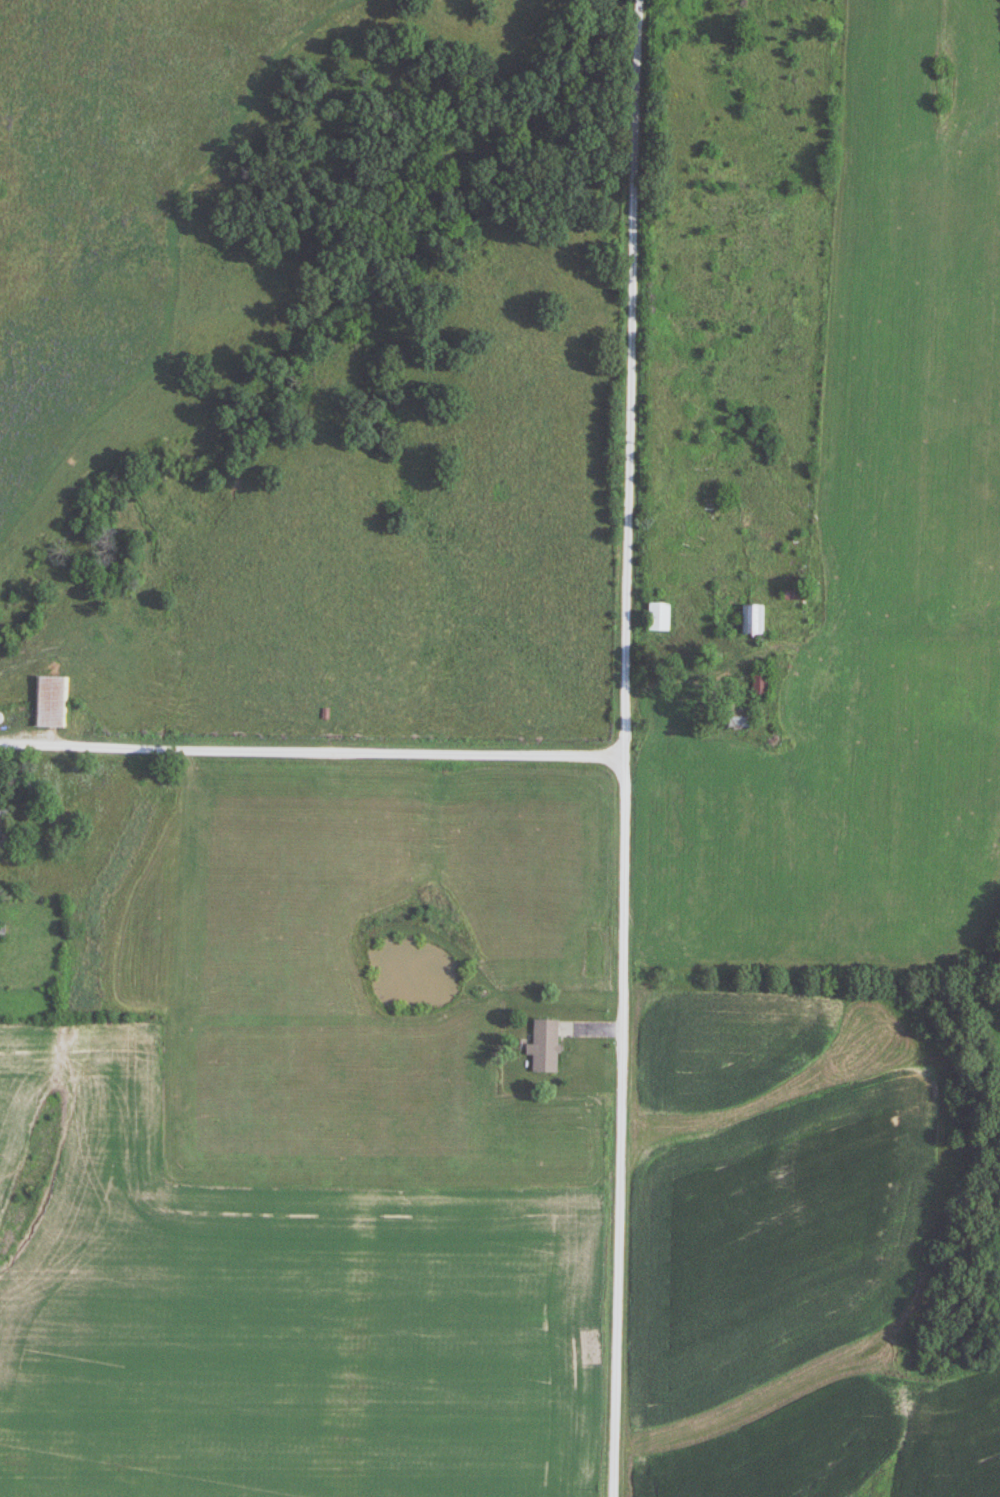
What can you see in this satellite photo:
building: (660, 615)
building: (754, 617)
building: (760, 682)
building: (57, 696)
road: (619, 748)
road: (309, 750)
building: (5, 820)
building: (3, 929)
building: (546, 1044)

